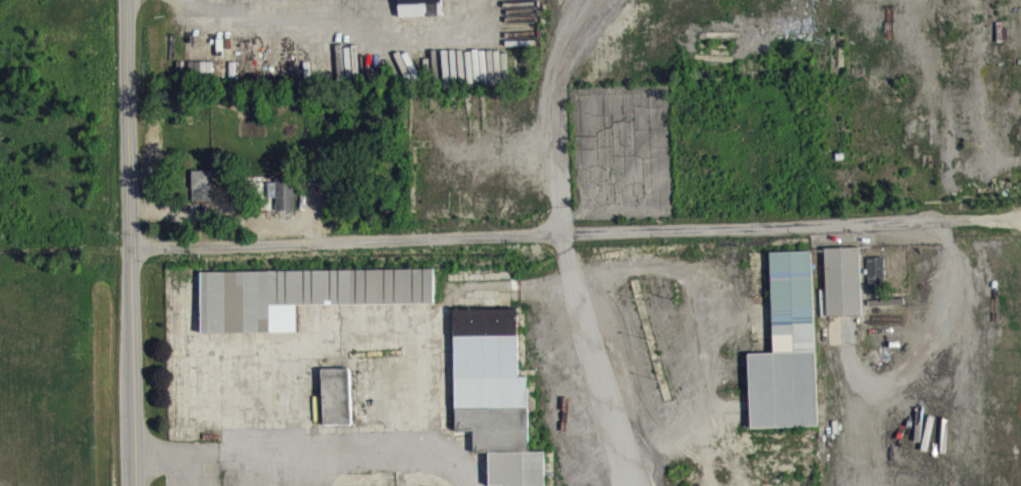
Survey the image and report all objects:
building: (285, 1)
building: (419, 7)
road: (272, 18)
building: (202, 183)
building: (284, 192)
road: (551, 231)
road: (129, 242)
building: (875, 273)
building: (842, 279)
building: (300, 293)
building: (787, 347)
road: (595, 358)
building: (494, 393)
building: (336, 394)
road: (349, 459)
road: (177, 462)
road: (188, 474)

